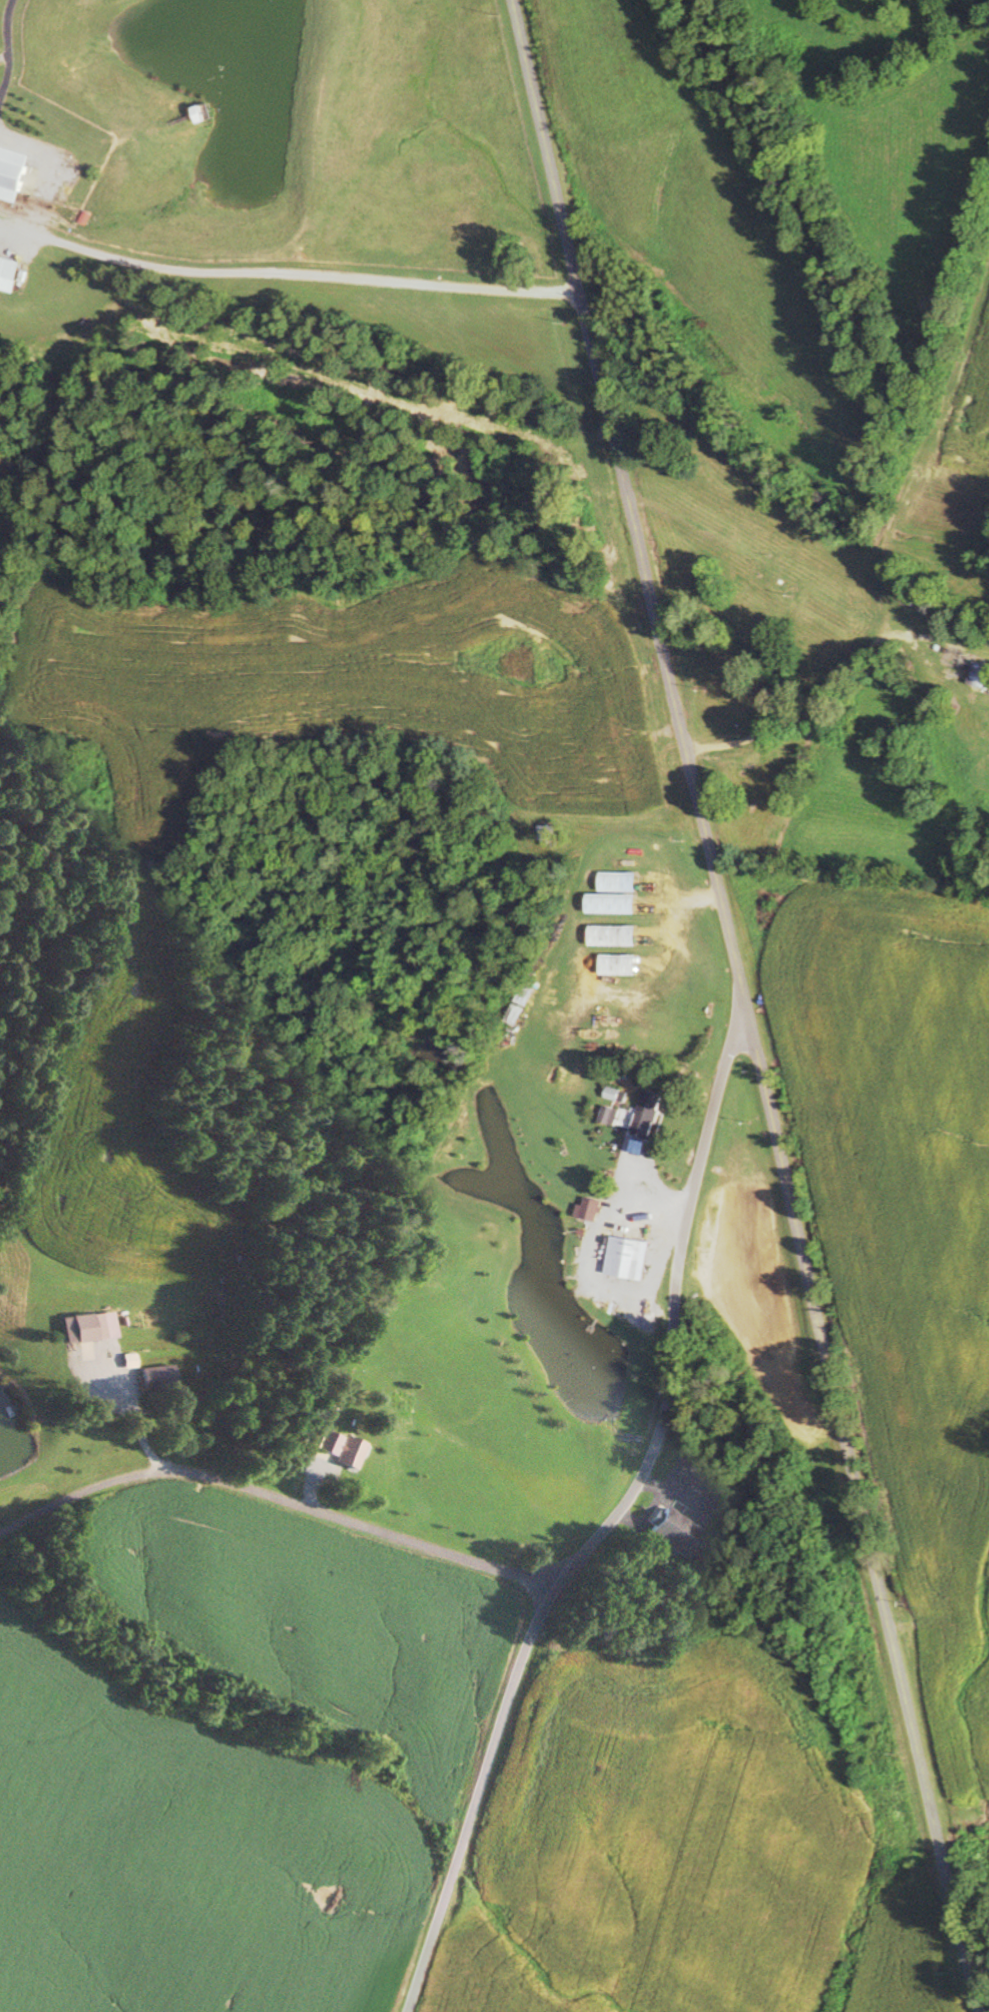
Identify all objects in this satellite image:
building: (16, 175)
building: (9, 275)
road: (767, 452)
building: (980, 677)
road: (866, 905)
road: (748, 1005)
building: (616, 1095)
building: (648, 1113)
building: (610, 1116)
building: (589, 1210)
building: (628, 1259)
building: (89, 1328)
building: (128, 1362)
building: (155, 1377)
building: (326, 1409)
building: (340, 1449)
road: (294, 1503)
road: (611, 1524)
building: (671, 1532)
road: (535, 1597)

